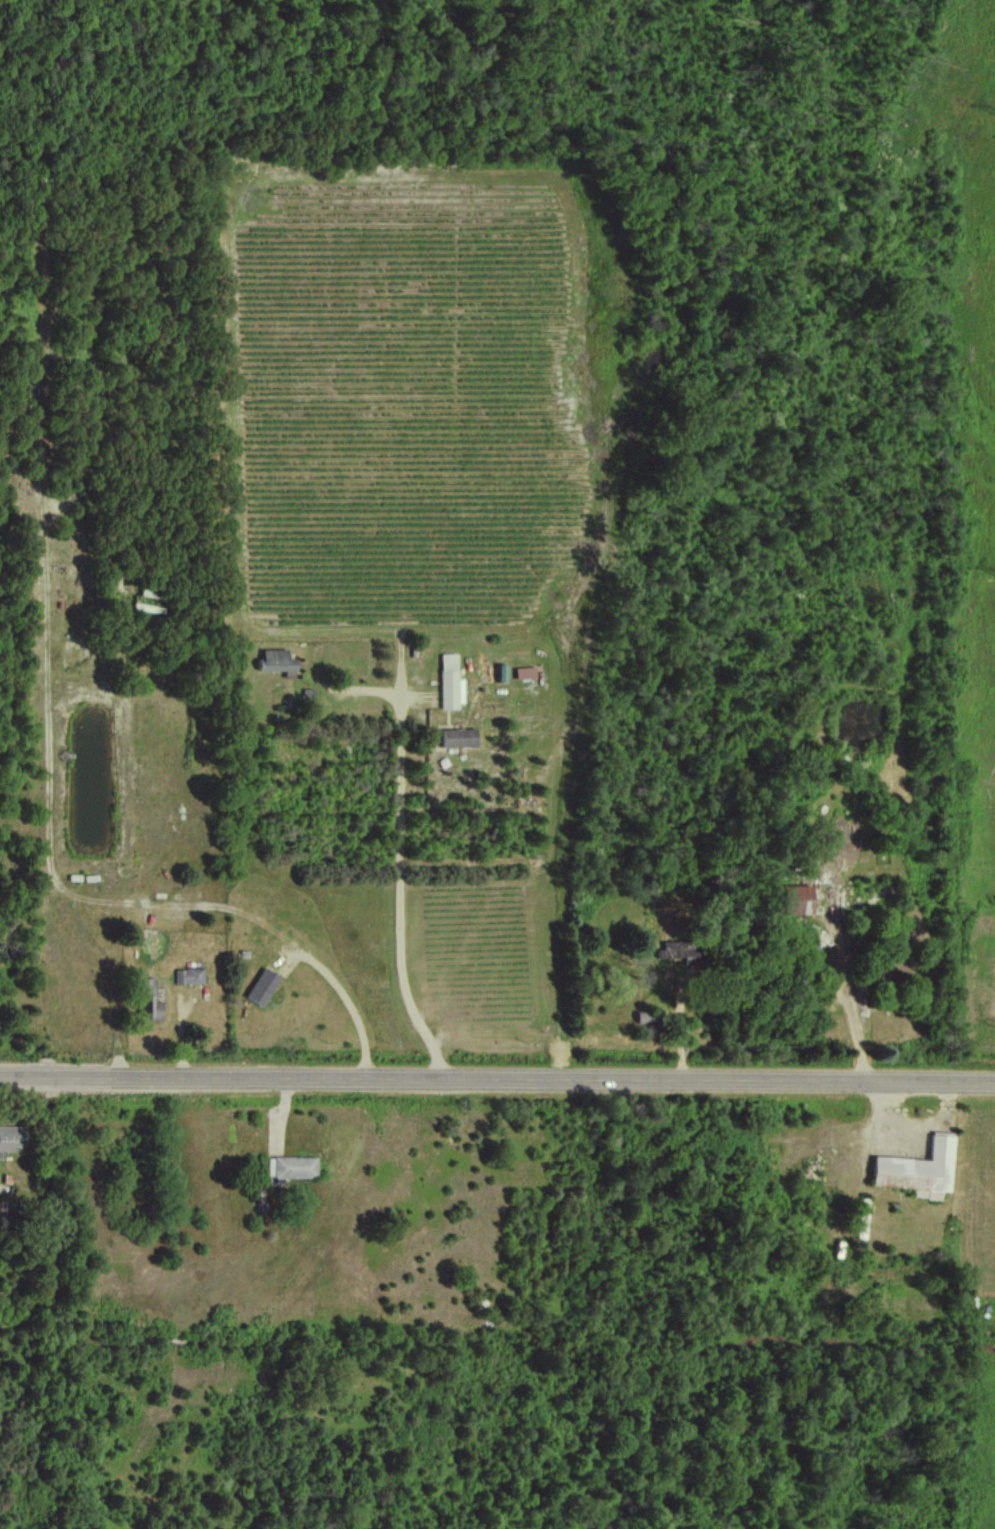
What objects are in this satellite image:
power tower: (989, 115)
building: (276, 661)
building: (450, 682)
building: (458, 737)
road: (407, 868)
building: (797, 899)
building: (678, 949)
building: (189, 975)
building: (262, 986)
building: (150, 998)
road: (786, 999)
building: (647, 1016)
road: (497, 1079)
building: (11, 1138)
building: (292, 1166)
building: (918, 1168)
building: (862, 1218)

